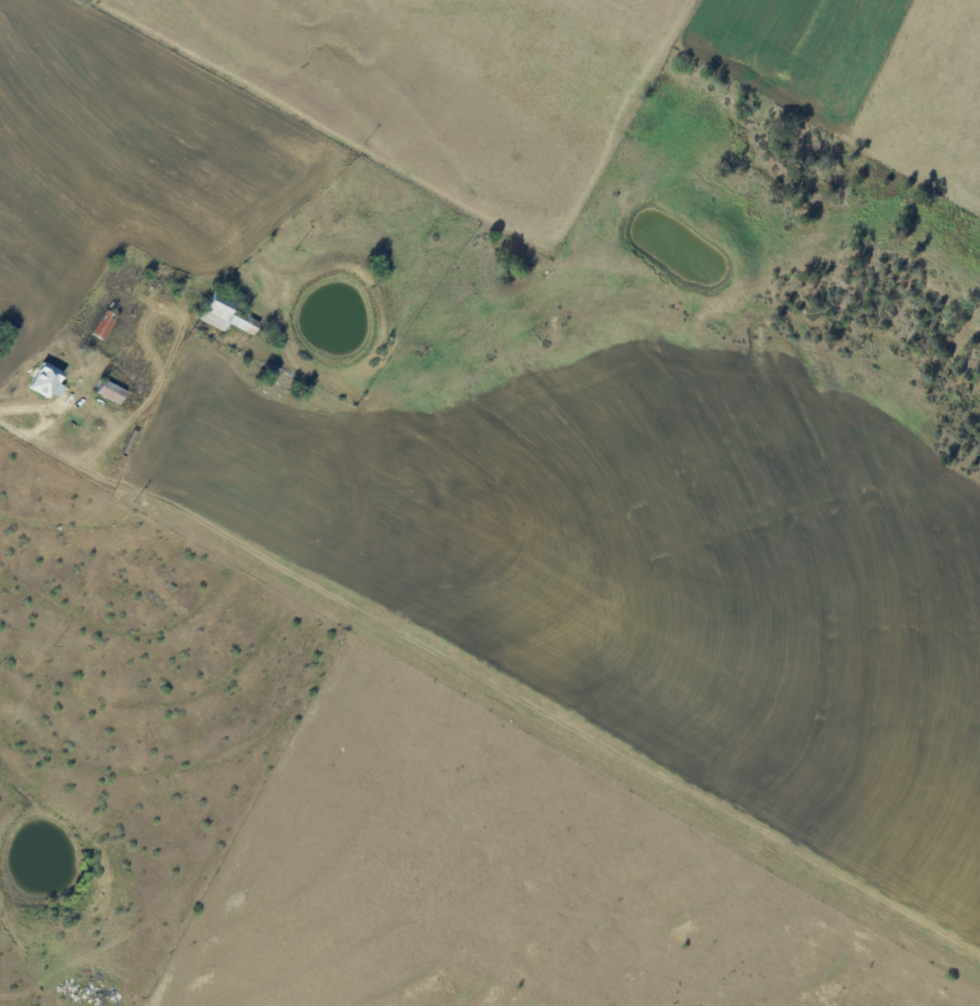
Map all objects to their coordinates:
building: (225, 314)
building: (51, 380)
building: (114, 391)
crop: (513, 873)

